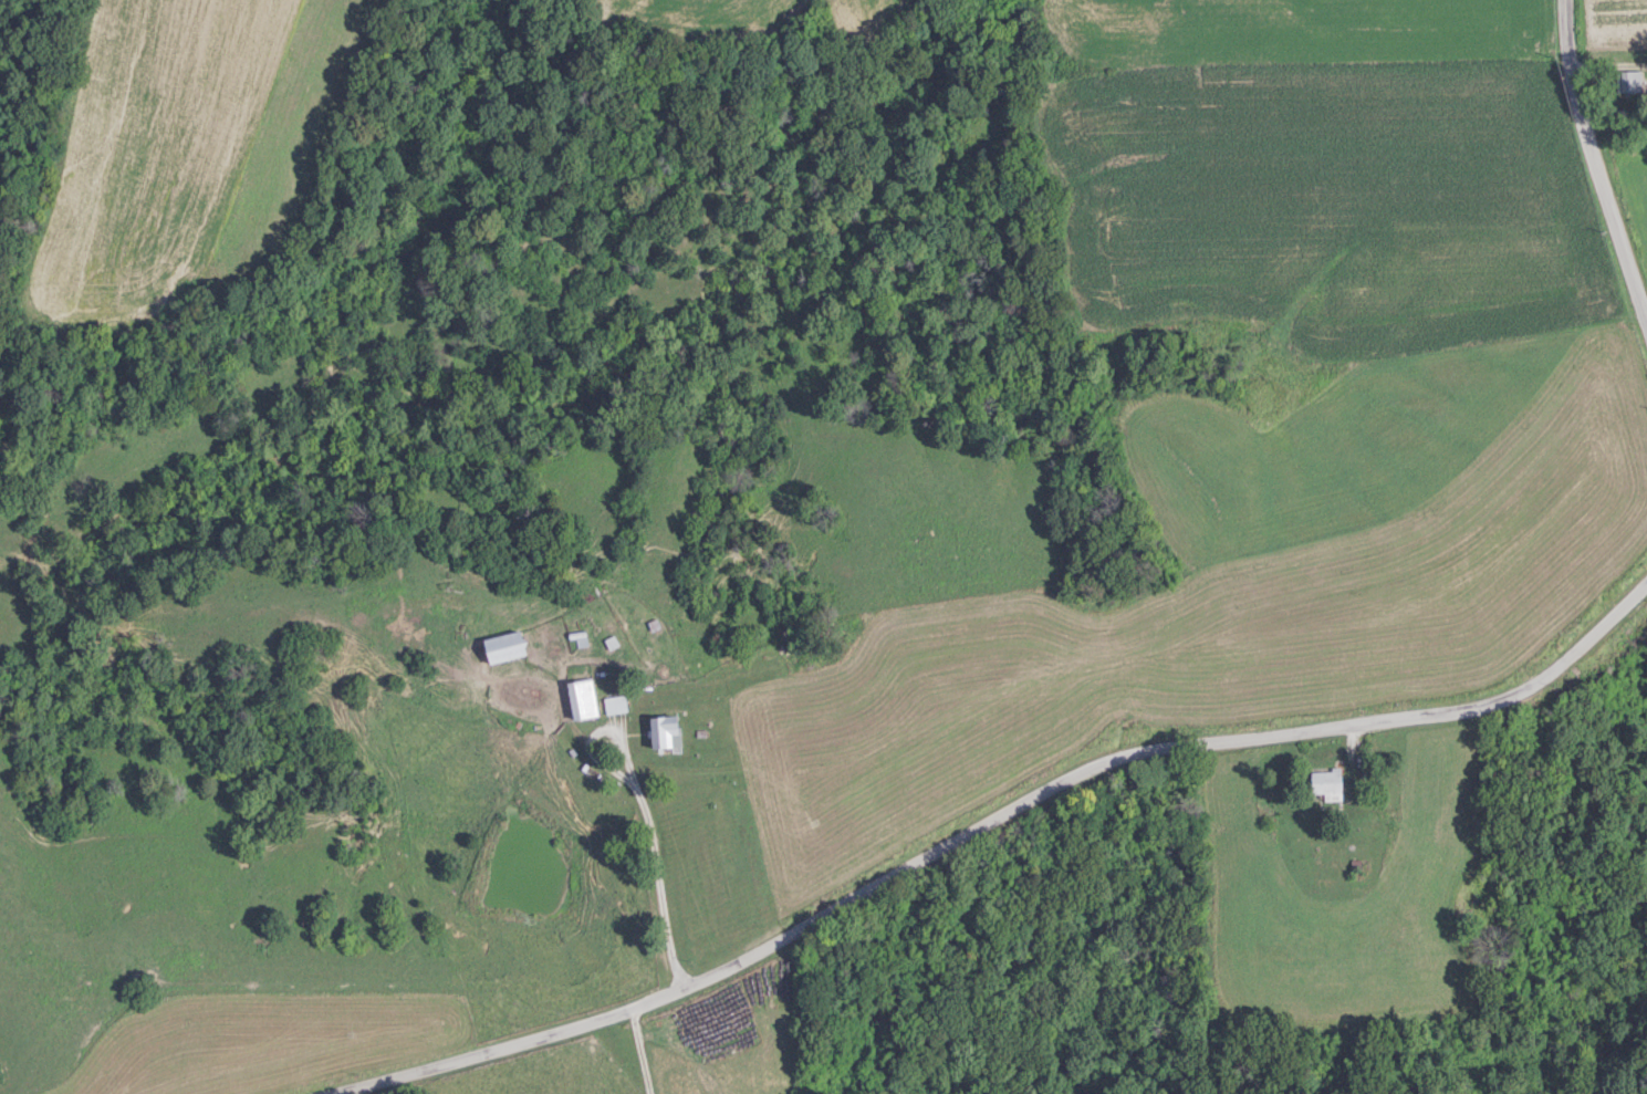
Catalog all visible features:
building: (1632, 80)
road: (1595, 158)
building: (503, 647)
building: (583, 698)
building: (615, 702)
building: (666, 731)
building: (1328, 784)
road: (645, 806)
road: (982, 821)
road: (640, 1049)

